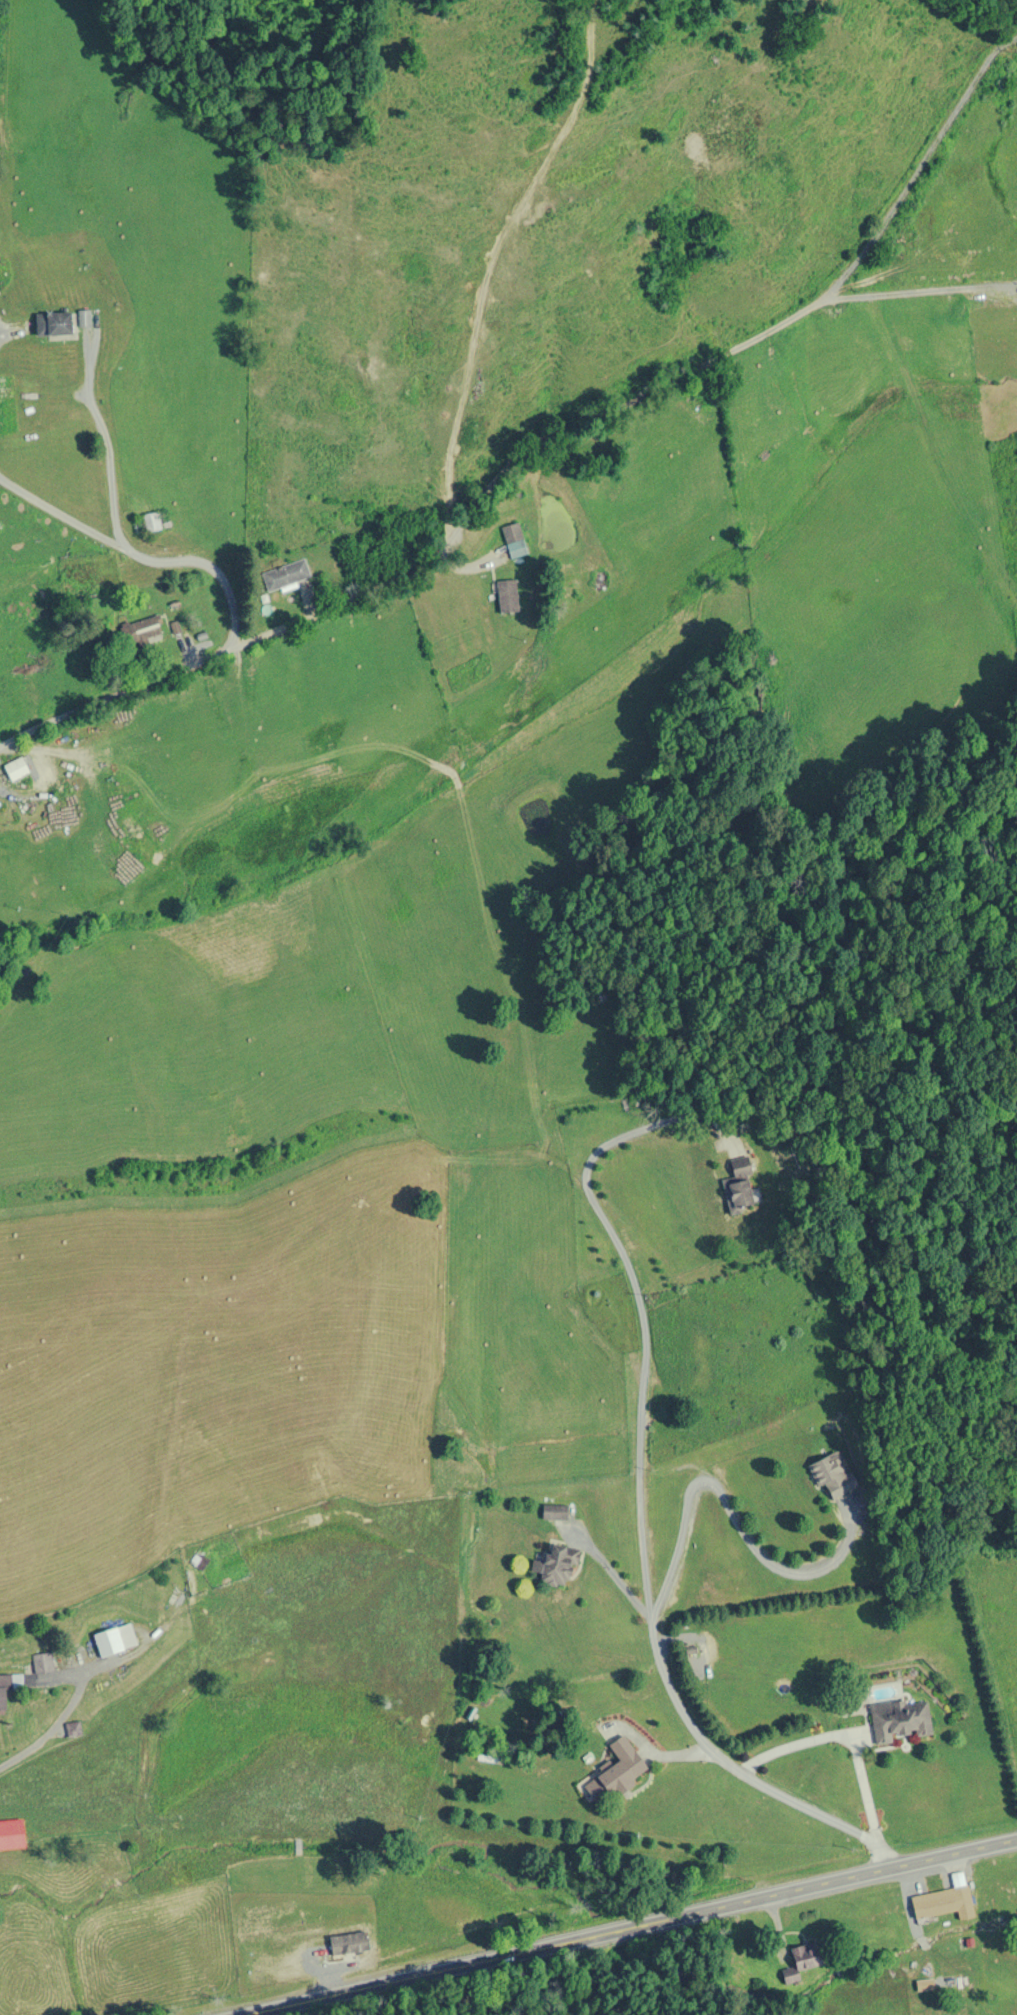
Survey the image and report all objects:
road: (500, 261)
building: (84, 319)
building: (53, 323)
road: (543, 445)
building: (146, 523)
building: (511, 533)
building: (285, 575)
building: (507, 595)
building: (140, 631)
building: (15, 768)
building: (739, 1190)
building: (831, 1476)
building: (195, 1559)
road: (610, 1565)
building: (554, 1566)
building: (114, 1641)
building: (42, 1663)
building: (3, 1695)
road: (688, 1703)
building: (899, 1720)
road: (53, 1726)
building: (72, 1730)
road: (802, 1754)
road: (580, 1761)
building: (615, 1774)
building: (11, 1834)
building: (943, 1904)
road: (617, 1915)

